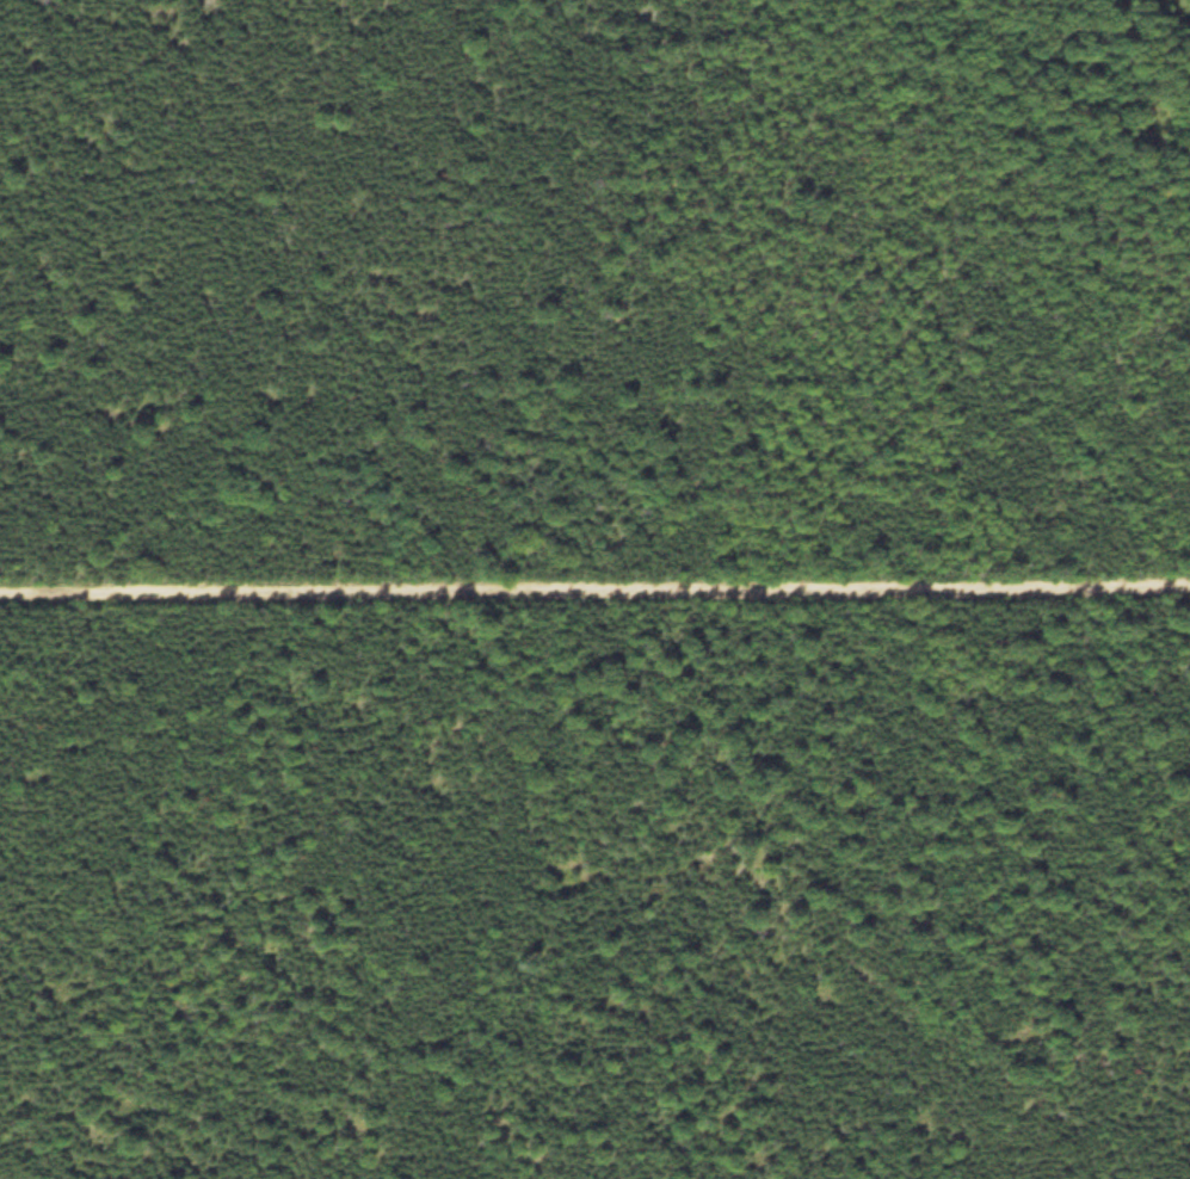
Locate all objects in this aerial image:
road: (594, 593)

